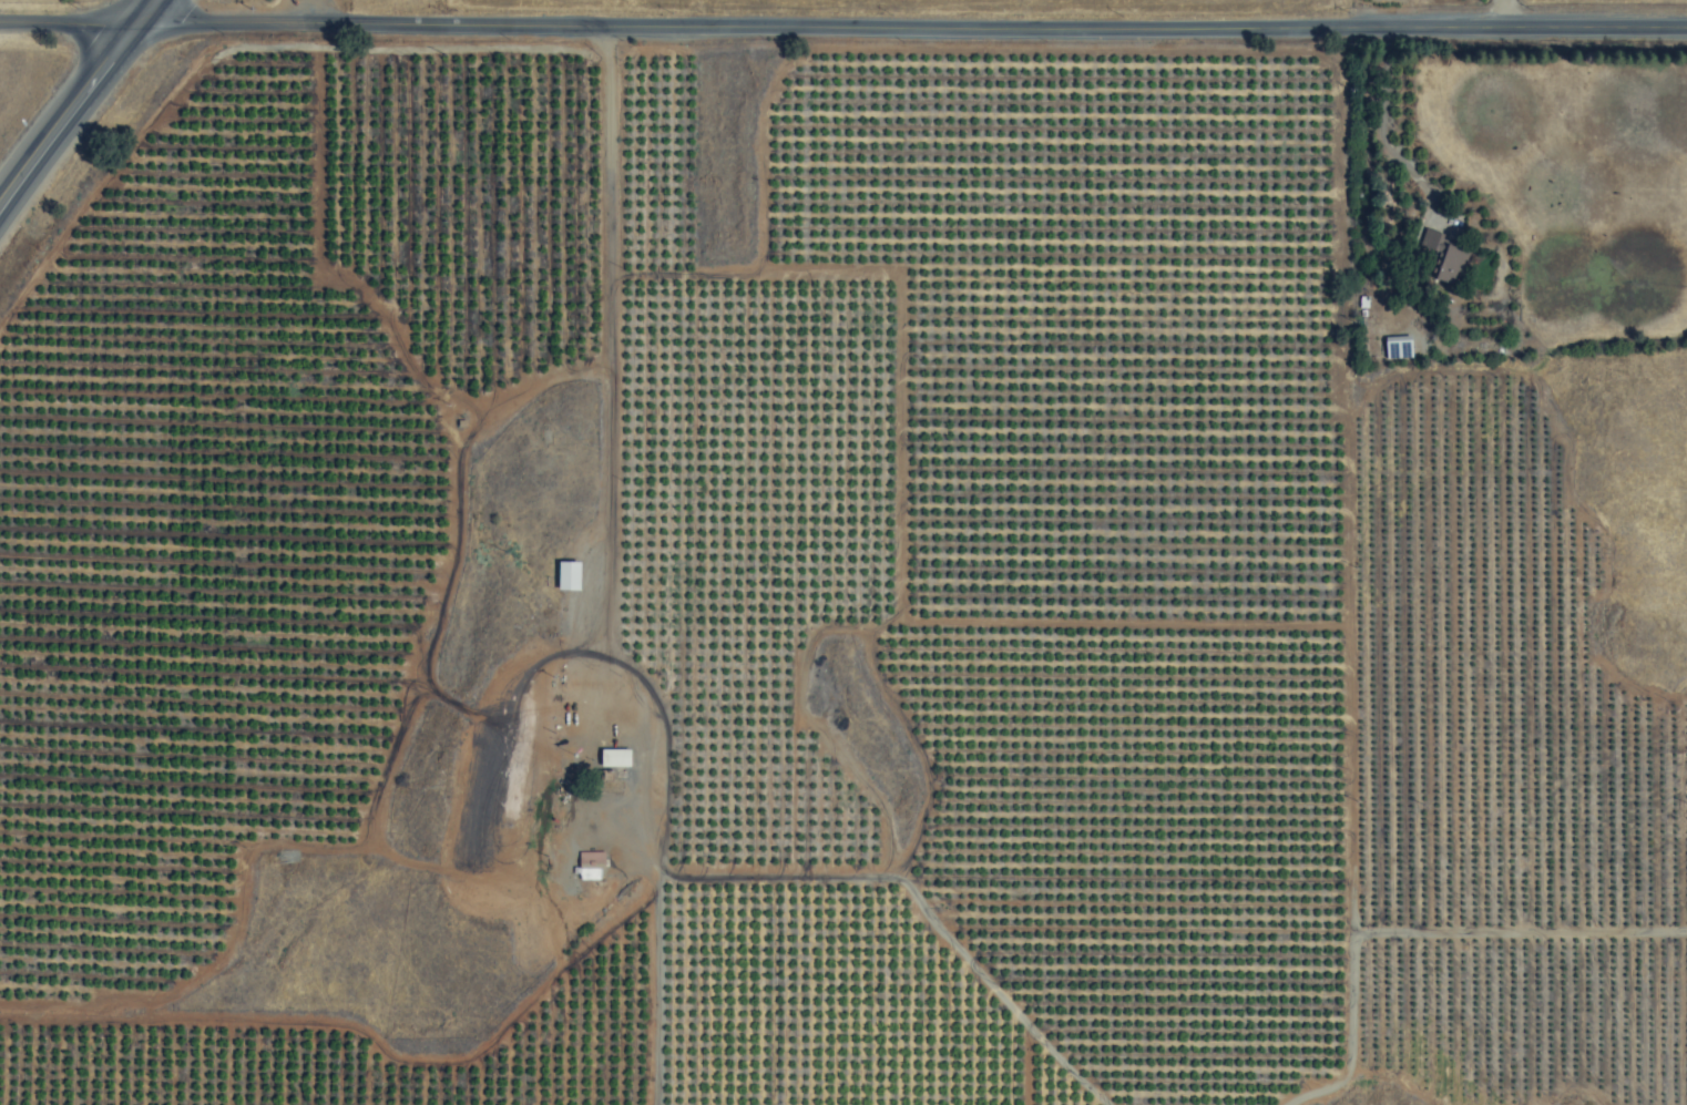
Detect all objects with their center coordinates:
crop: (1533, 2)
crop: (143, 33)
road: (842, 38)
road: (76, 102)
building: (1451, 263)
building: (50, 427)
road: (610, 456)
crop: (863, 567)
building: (569, 576)
building: (615, 758)
building: (591, 866)
building: (815, 1035)

